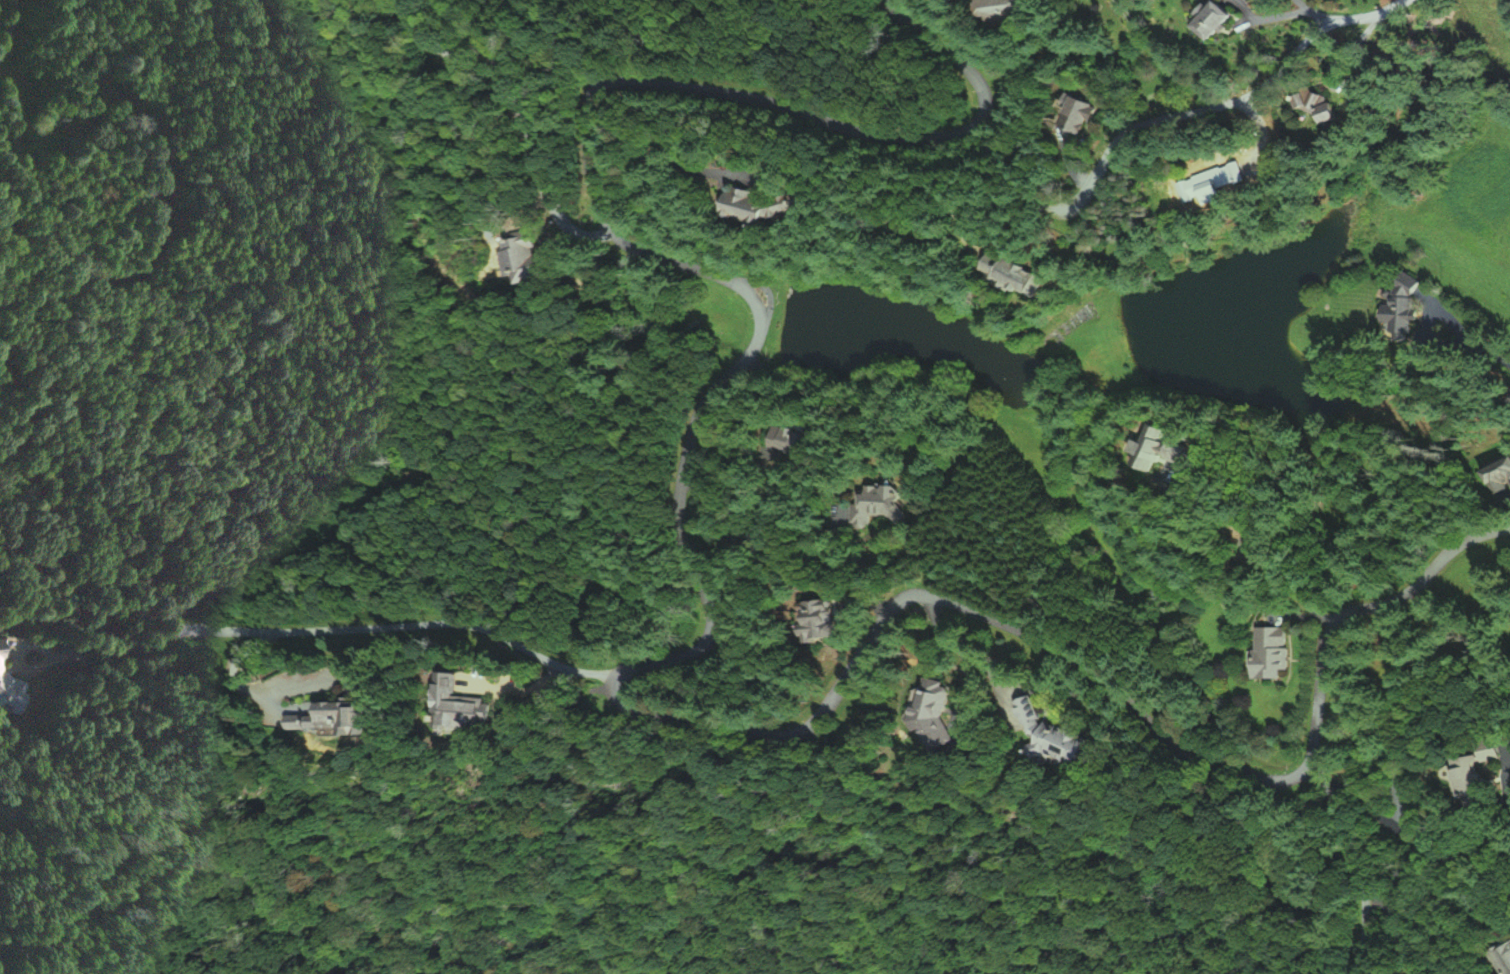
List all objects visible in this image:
building: (1008, 11)
building: (1215, 18)
road: (10, 27)
road: (1164, 61)
building: (1327, 108)
road: (1194, 111)
road: (516, 112)
building: (1078, 113)
building: (770, 204)
building: (526, 260)
building: (1022, 272)
building: (1405, 303)
building: (794, 436)
building: (1500, 473)
building: (881, 504)
building: (815, 618)
road: (391, 625)
building: (1268, 653)
road: (680, 656)
building: (9, 688)
building: (457, 704)
building: (927, 711)
building: (1025, 716)
building: (326, 718)
building: (1064, 745)
building: (1478, 782)
road: (1398, 837)
road: (1357, 864)
building: (1505, 960)

